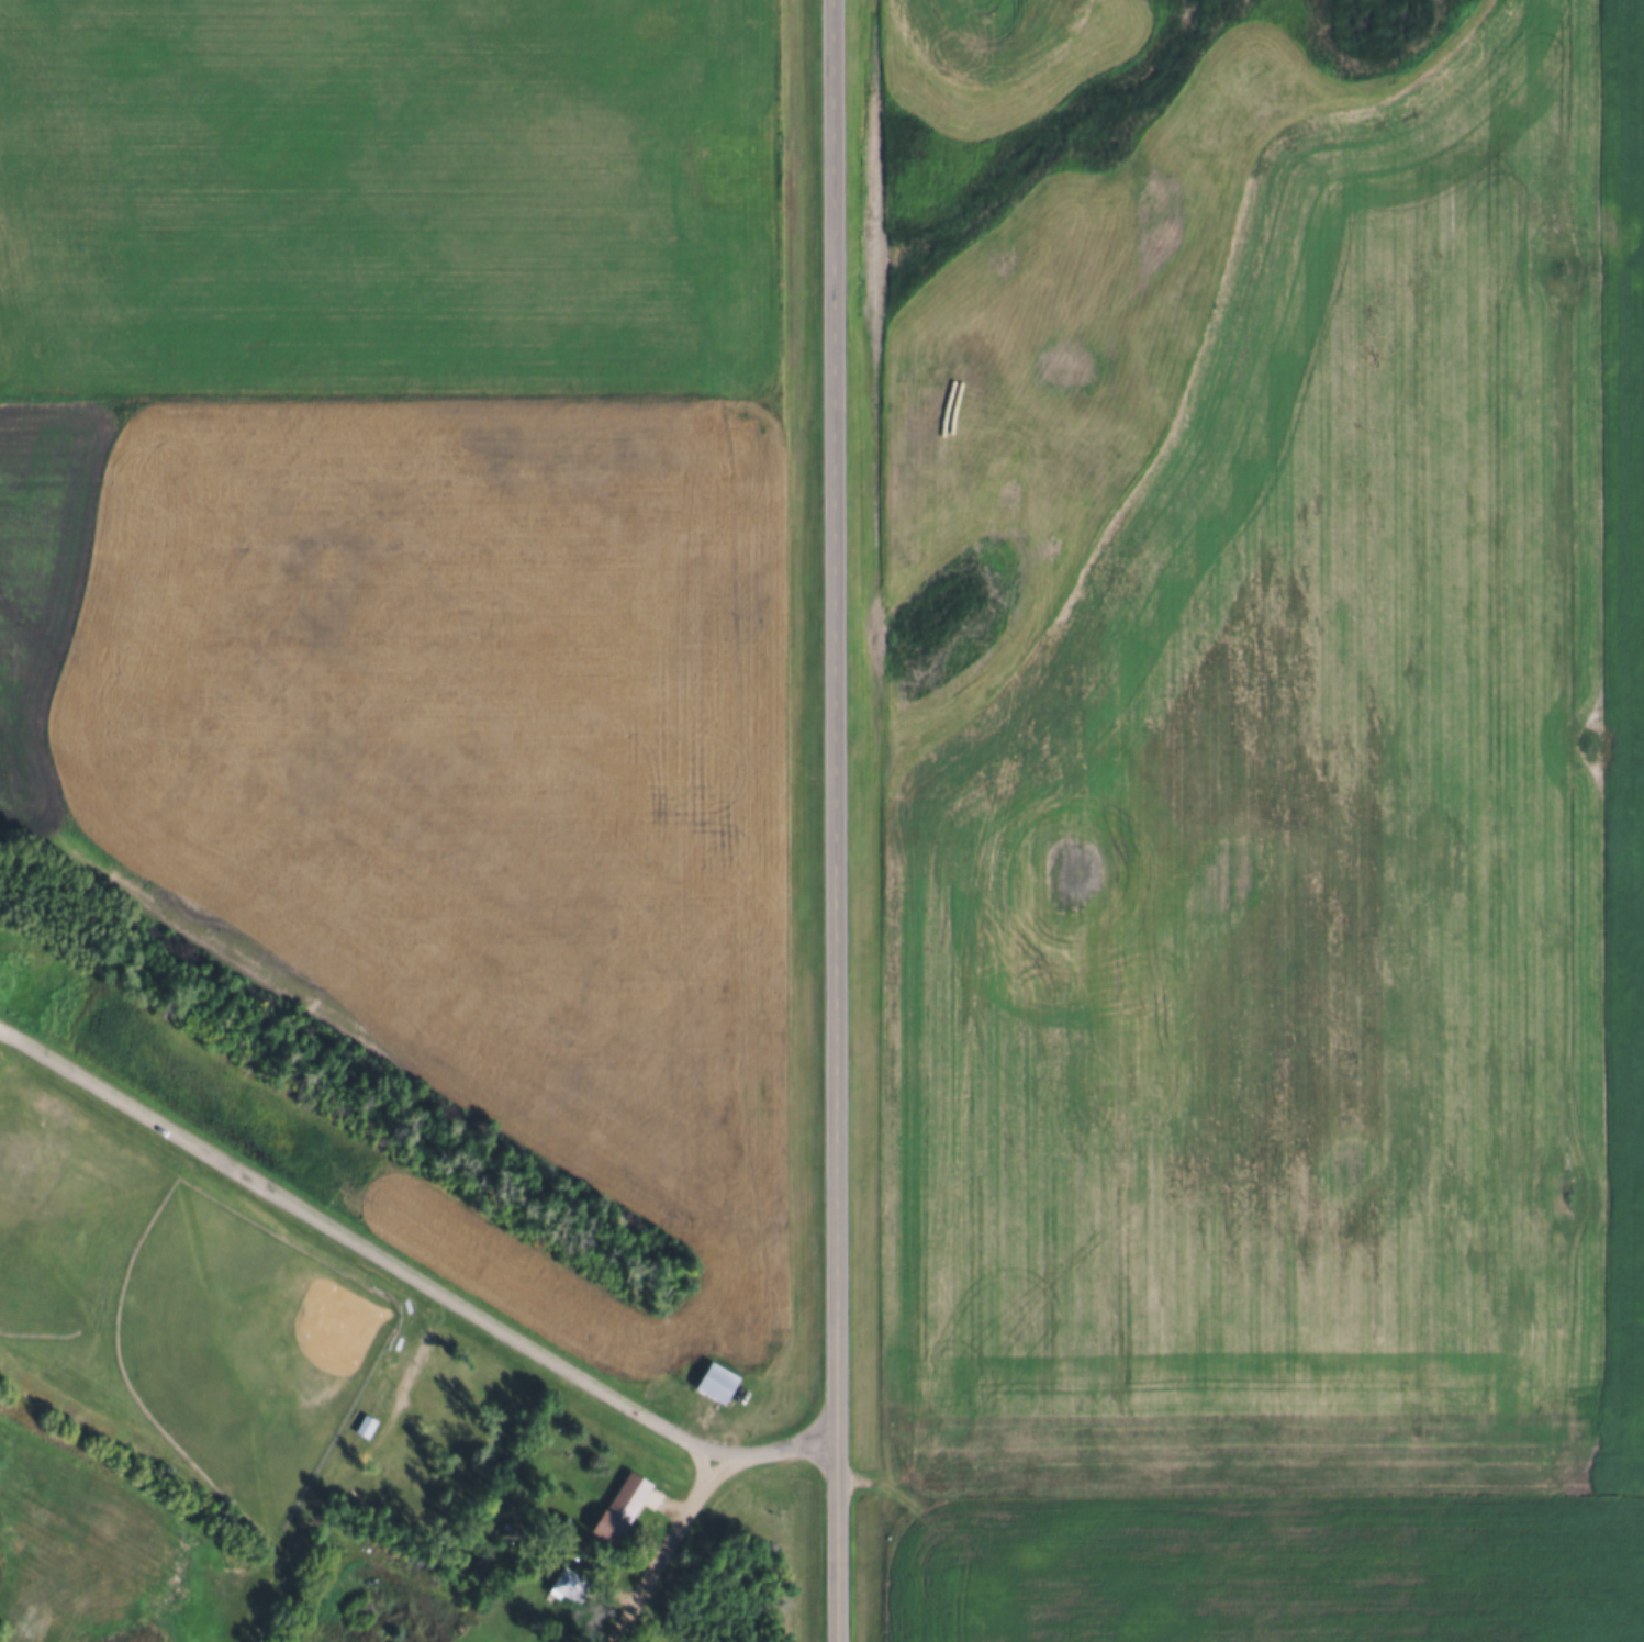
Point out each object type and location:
road: (830, 820)
road: (410, 1271)
park: (247, 1344)
road: (407, 1376)
building: (715, 1378)
building: (366, 1422)
building: (617, 1506)
building: (515, 1533)
road: (660, 1549)
building: (564, 1580)

